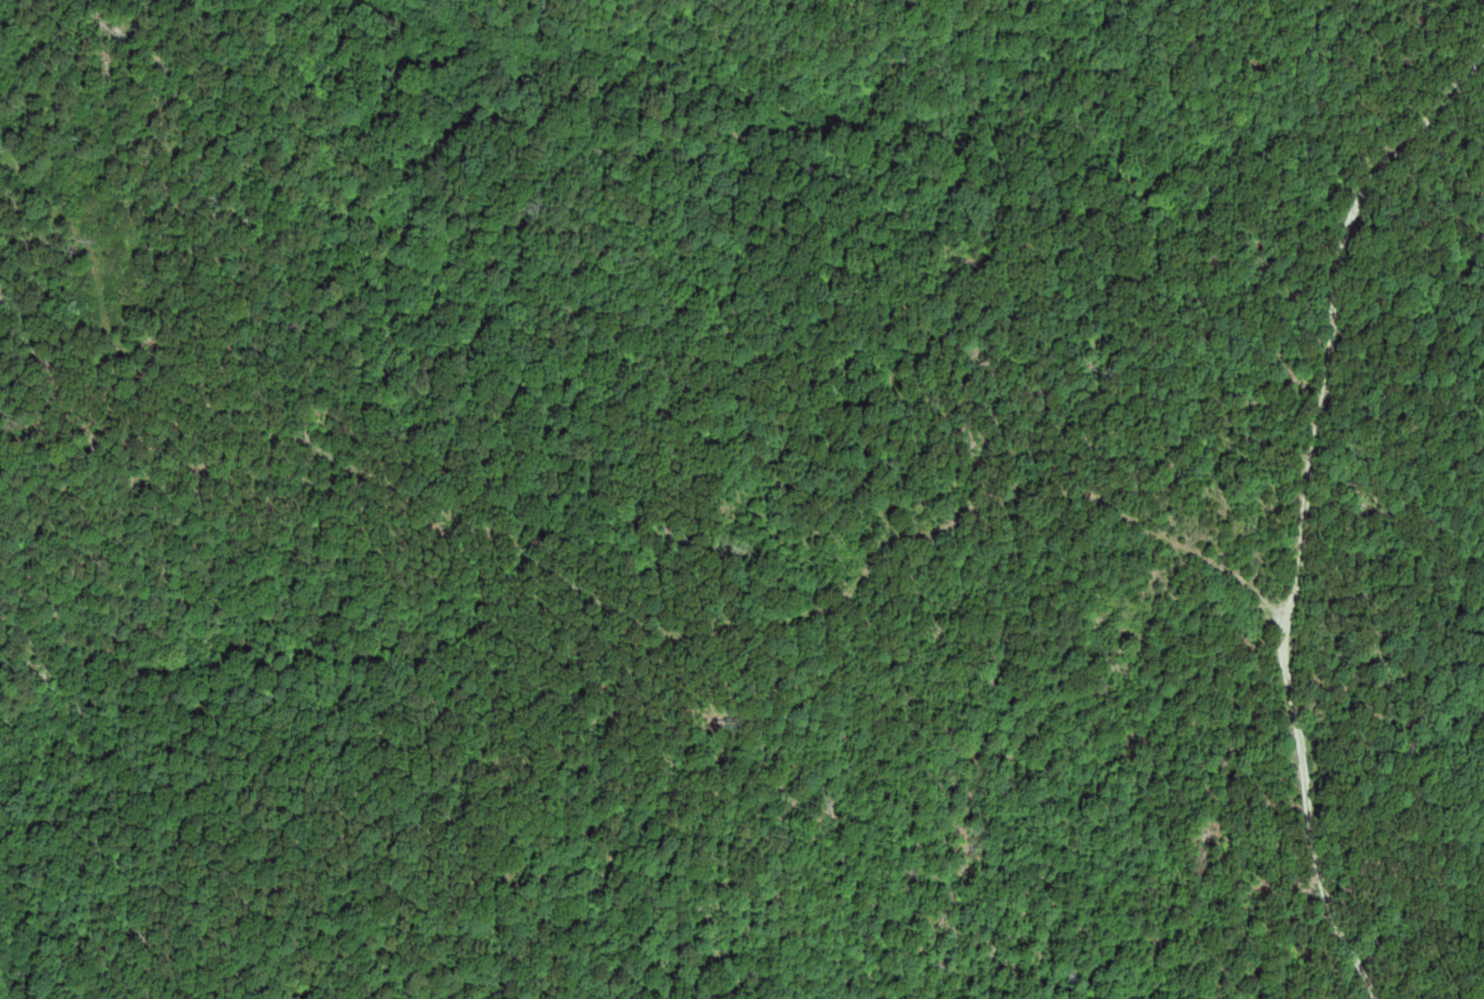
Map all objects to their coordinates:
road: (1309, 507)

